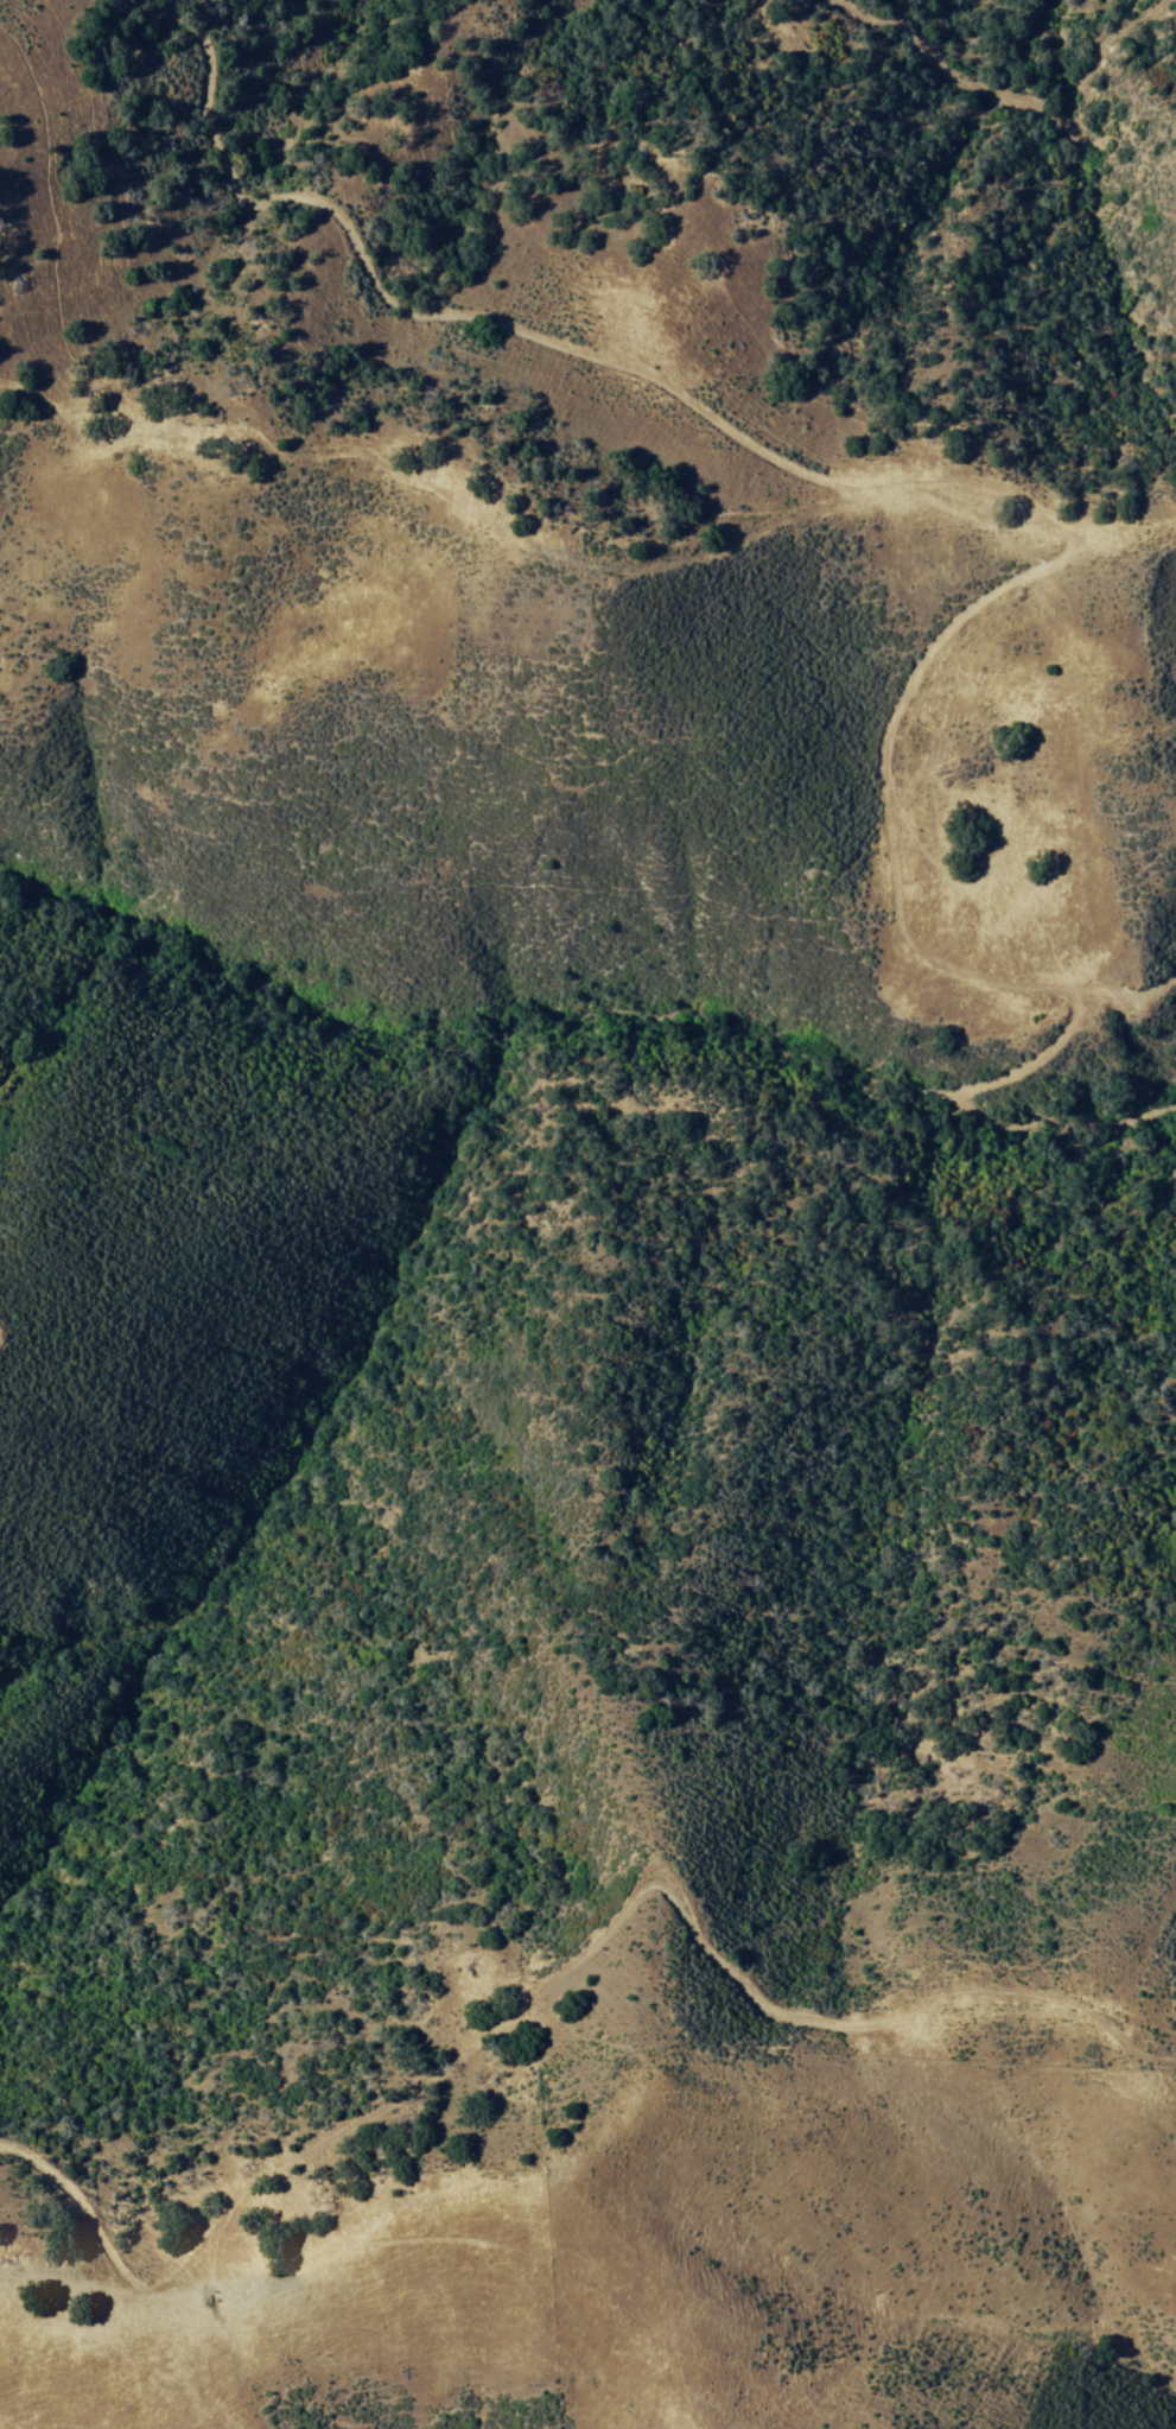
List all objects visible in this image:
road: (1111, 27)
road: (562, 385)
road: (335, 2301)

